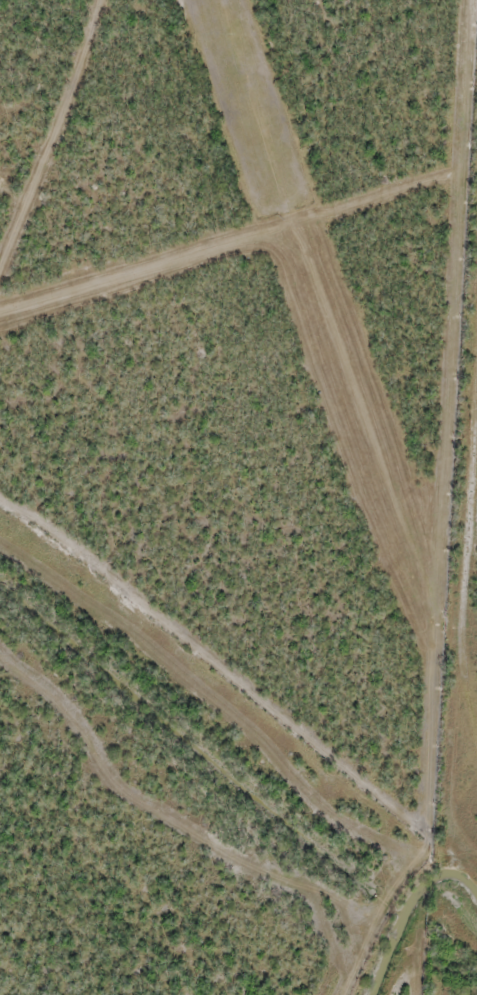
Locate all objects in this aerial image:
river: (440, 870)
river: (386, 948)

